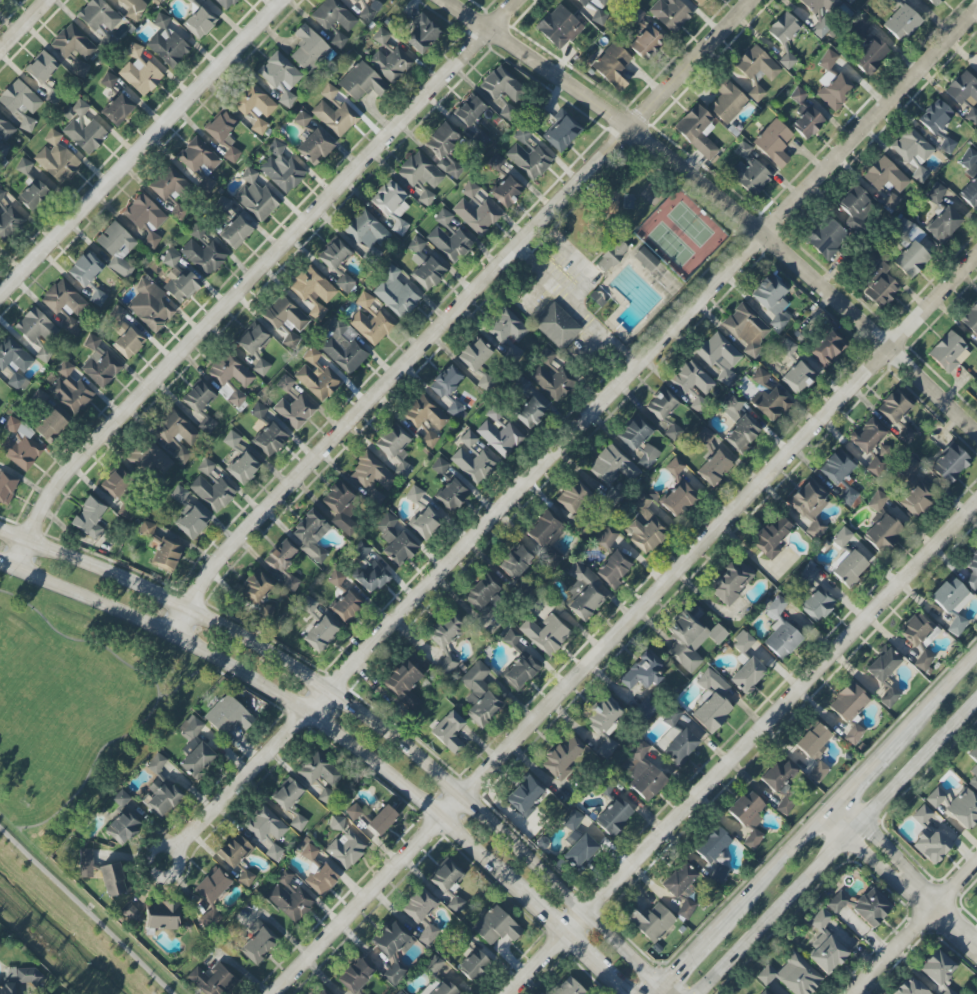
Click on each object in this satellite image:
building: (0, 0)
building: (190, 0)
building: (373, 0)
building: (894, 0)
building: (355, 1)
building: (849, 1)
building: (699, 2)
building: (933, 2)
building: (225, 3)
building: (593, 6)
building: (133, 7)
building: (366, 12)
building: (670, 14)
building: (820, 14)
building: (98, 15)
building: (333, 16)
building: (199, 22)
building: (902, 23)
road: (26, 27)
building: (559, 27)
building: (783, 28)
building: (421, 34)
building: (381, 36)
building: (884, 39)
building: (338, 40)
building: (72, 43)
building: (166, 43)
building: (646, 43)
building: (309, 49)
building: (870, 56)
building: (827, 60)
building: (787, 61)
building: (391, 64)
building: (613, 66)
building: (41, 68)
building: (80, 69)
building: (757, 70)
building: (139, 72)
building: (976, 73)
building: (281, 78)
building: (108, 81)
building: (361, 82)
building: (500, 85)
building: (962, 89)
building: (833, 90)
building: (329, 92)
building: (798, 96)
building: (19, 98)
building: (727, 101)
building: (255, 107)
building: (118, 110)
building: (469, 111)
building: (935, 116)
building: (972, 116)
building: (335, 118)
building: (302, 119)
building: (807, 122)
building: (26, 123)
building: (83, 128)
building: (698, 132)
building: (562, 133)
building: (5, 134)
building: (224, 135)
building: (522, 135)
building: (479, 139)
building: (774, 143)
building: (947, 145)
building: (911, 146)
building: (314, 147)
road: (143, 150)
building: (444, 150)
building: (742, 153)
building: (56, 158)
building: (198, 159)
building: (968, 159)
building: (529, 160)
building: (495, 162)
building: (24, 166)
building: (281, 169)
building: (420, 172)
building: (884, 175)
building: (920, 175)
building: (750, 177)
building: (166, 183)
building: (469, 190)
building: (506, 191)
building: (935, 193)
building: (970, 193)
building: (2, 194)
building: (34, 195)
building: (255, 197)
building: (426, 198)
road: (728, 201)
building: (222, 204)
building: (392, 205)
building: (855, 206)
building: (177, 213)
building: (476, 216)
building: (145, 217)
building: (443, 218)
building: (8, 221)
building: (944, 224)
building: (365, 230)
building: (235, 233)
building: (827, 238)
building: (450, 244)
building: (117, 248)
building: (417, 250)
building: (910, 250)
building: (333, 255)
building: (203, 256)
building: (612, 256)
building: (171, 258)
building: (646, 259)
building: (86, 268)
building: (428, 274)
road: (255, 276)
building: (881, 286)
building: (182, 287)
building: (313, 291)
building: (394, 292)
building: (97, 298)
building: (63, 300)
building: (364, 300)
building: (772, 301)
building: (150, 306)
road: (580, 306)
road: (456, 312)
building: (117, 314)
building: (971, 320)
building: (287, 321)
building: (35, 326)
building: (71, 326)
building: (371, 326)
building: (557, 326)
building: (747, 328)
building: (507, 329)
building: (128, 343)
building: (255, 347)
building: (342, 347)
building: (827, 347)
building: (787, 348)
building: (948, 352)
building: (44, 354)
building: (474, 355)
building: (13, 356)
building: (546, 356)
building: (720, 357)
building: (99, 363)
building: (230, 371)
building: (317, 376)
building: (760, 377)
building: (798, 377)
building: (692, 379)
building: (17, 382)
building: (447, 382)
building: (285, 383)
building: (550, 383)
building: (69, 389)
building: (40, 397)
building: (236, 398)
building: (976, 400)
building: (697, 404)
building: (771, 404)
building: (659, 407)
building: (732, 407)
building: (894, 407)
building: (455, 408)
building: (532, 409)
building: (258, 410)
building: (293, 412)
building: (424, 413)
building: (50, 426)
road: (578, 429)
building: (634, 433)
building: (741, 433)
building: (178, 435)
building: (867, 435)
building: (499, 436)
building: (428, 438)
building: (231, 439)
building: (270, 440)
building: (392, 441)
building: (20, 445)
building: (149, 458)
building: (473, 458)
building: (647, 458)
building: (950, 464)
building: (612, 465)
building: (440, 466)
building: (205, 467)
building: (674, 467)
building: (875, 467)
building: (906, 467)
building: (243, 468)
building: (714, 468)
building: (403, 469)
building: (840, 475)
building: (372, 479)
building: (116, 483)
building: (7, 487)
building: (212, 493)
building: (180, 494)
building: (414, 494)
building: (452, 495)
building: (574, 496)
building: (612, 497)
building: (678, 499)
building: (916, 499)
building: (642, 501)
building: (876, 501)
building: (810, 505)
building: (340, 509)
building: (126, 513)
building: (89, 518)
building: (425, 522)
building: (191, 523)
building: (147, 528)
building: (882, 532)
building: (647, 534)
building: (311, 535)
building: (545, 536)
building: (771, 537)
building: (842, 537)
building: (606, 538)
building: (395, 540)
building: (361, 550)
building: (167, 554)
building: (515, 563)
building: (283, 564)
building: (848, 567)
building: (613, 569)
building: (972, 571)
building: (808, 573)
building: (372, 577)
building: (336, 578)
building: (730, 582)
building: (256, 586)
building: (583, 591)
building: (482, 599)
building: (952, 603)
building: (308, 604)
building: (816, 605)
building: (346, 606)
road: (627, 626)
building: (780, 630)
building: (446, 631)
building: (918, 631)
building: (545, 633)
building: (320, 634)
building: (511, 638)
building: (690, 639)
building: (743, 642)
building: (923, 660)
building: (447, 664)
building: (882, 664)
building: (520, 672)
building: (642, 672)
building: (747, 676)
building: (403, 686)
building: (479, 695)
road: (285, 697)
building: (889, 697)
road: (931, 700)
building: (713, 701)
building: (848, 702)
building: (645, 709)
park: (76, 710)
road: (360, 710)
building: (228, 715)
building: (671, 716)
road: (773, 717)
building: (604, 724)
building: (190, 727)
building: (449, 732)
building: (853, 734)
building: (813, 741)
building: (681, 747)
building: (564, 756)
building: (196, 759)
building: (156, 764)
building: (973, 769)
building: (318, 770)
building: (642, 772)
building: (818, 772)
building: (777, 774)
road: (857, 777)
building: (287, 795)
building: (525, 795)
building: (120, 798)
building: (935, 798)
building: (160, 799)
building: (785, 805)
building: (354, 812)
building: (921, 815)
building: (613, 817)
building: (748, 817)
building: (381, 820)
building: (573, 820)
building: (336, 823)
building: (265, 825)
building: (122, 829)
road: (831, 842)
building: (712, 845)
building: (931, 845)
building: (346, 849)
building: (307, 850)
building: (234, 851)
building: (579, 851)
building: (274, 852)
building: (86, 856)
road: (775, 864)
building: (719, 874)
road: (903, 876)
building: (246, 878)
building: (113, 879)
building: (322, 880)
building: (448, 884)
building: (212, 886)
building: (682, 888)
building: (288, 896)
building: (836, 903)
building: (419, 905)
building: (871, 907)
road: (86, 911)
building: (130, 913)
road: (549, 914)
building: (162, 916)
building: (651, 922)
building: (496, 927)
road: (916, 929)
building: (427, 935)
building: (390, 940)
road: (578, 943)
building: (258, 945)
building: (825, 945)
road: (691, 952)
road: (539, 963)
building: (434, 965)
building: (472, 966)
building: (937, 967)
building: (394, 973)
road: (608, 973)
traffic signals: (671, 973)
building: (356, 975)
building: (792, 975)
building: (19, 979)
building: (211, 979)
building: (568, 987)
building: (910, 987)
road: (656, 988)
road: (668, 988)
building: (442, 989)
building: (948, 991)
building: (321, 992)
traffic signals: (629, 993)
building: (764, 993)
building: (976, 993)

